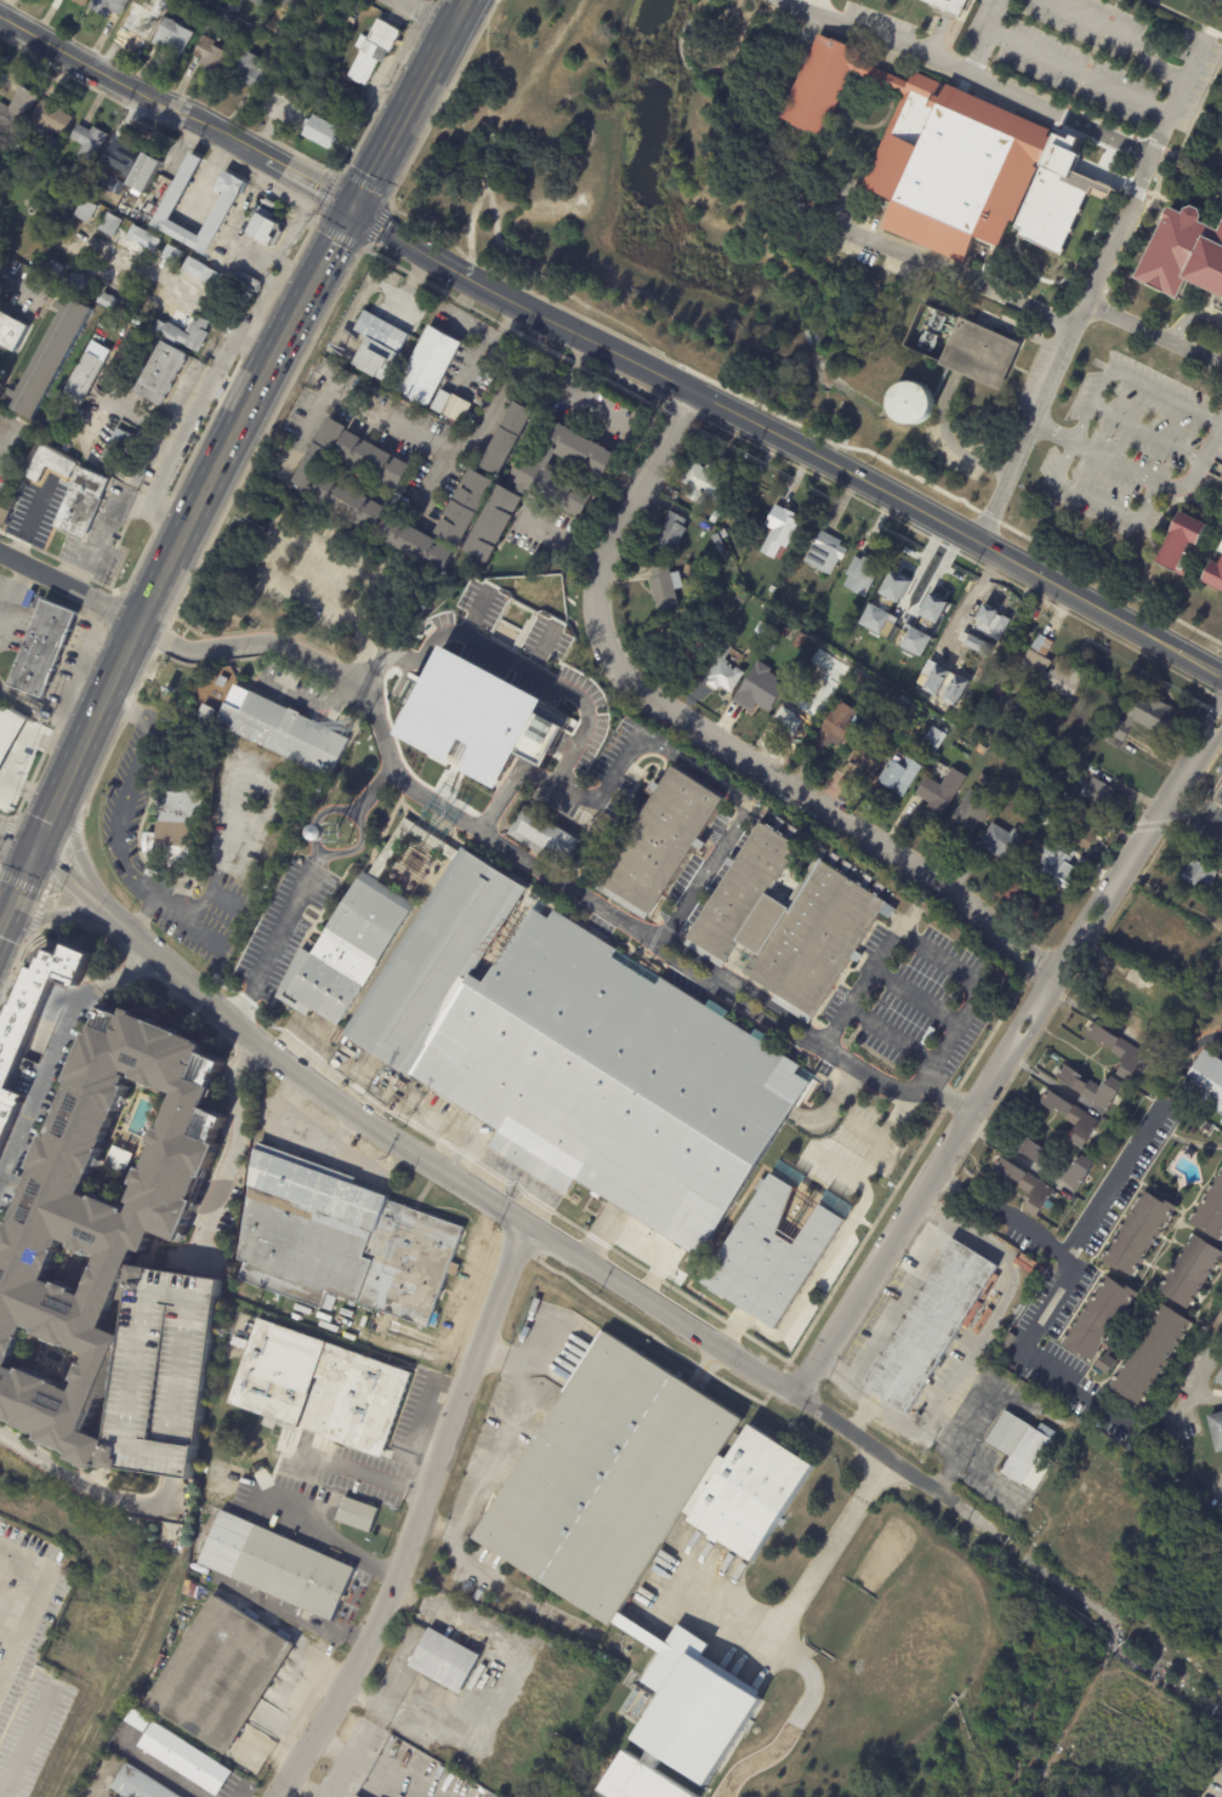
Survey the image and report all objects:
building: (85, 1)
building: (263, 1)
building: (291, 4)
building: (948, 5)
building: (112, 6)
building: (237, 6)
road: (812, 7)
road: (1114, 7)
building: (322, 12)
road: (426, 13)
road: (1186, 16)
building: (352, 18)
parking lot: (879, 18)
building: (144, 23)
parking lot: (937, 30)
road: (959, 32)
road: (1103, 32)
road: (1120, 34)
building: (177, 36)
road: (984, 38)
building: (274, 44)
building: (337, 44)
building: (370, 51)
building: (212, 53)
road: (923, 56)
road: (1091, 57)
parking lot: (1099, 58)
road: (977, 64)
building: (251, 73)
road: (527, 73)
road: (1078, 74)
road: (1080, 79)
road: (129, 89)
road: (1033, 90)
road: (1070, 99)
road: (1176, 99)
building: (18, 112)
road: (1210, 113)
road: (1063, 116)
building: (52, 119)
building: (320, 132)
building: (91, 142)
building: (55, 144)
road: (1158, 146)
building: (124, 157)
building: (148, 171)
building: (968, 172)
road: (306, 181)
building: (96, 183)
road: (365, 183)
road: (329, 189)
building: (109, 197)
building: (224, 204)
traffic signals: (353, 207)
building: (87, 210)
road: (376, 221)
building: (112, 224)
building: (265, 229)
road: (337, 233)
road: (305, 234)
road: (409, 239)
road: (231, 243)
building: (154, 244)
building: (1183, 255)
building: (61, 266)
building: (896, 271)
building: (203, 272)
road: (283, 274)
road: (413, 280)
building: (80, 282)
building: (251, 282)
road: (13, 288)
road: (197, 300)
building: (112, 301)
road: (267, 305)
building: (136, 311)
road: (504, 319)
building: (11, 328)
road: (483, 332)
road: (580, 332)
building: (931, 332)
building: (177, 334)
road: (1152, 335)
building: (101, 336)
road: (251, 336)
building: (381, 346)
road: (1061, 351)
building: (211, 354)
building: (976, 356)
building: (51, 358)
building: (428, 365)
building: (163, 374)
road: (1127, 377)
building: (90, 379)
road: (348, 389)
road: (575, 392)
building: (443, 400)
building: (913, 402)
storage tank: (913, 402)
road: (206, 423)
road: (489, 426)
road: (1146, 431)
road: (266, 433)
road: (184, 434)
building: (508, 439)
road: (2, 440)
building: (120, 444)
parking lot: (1133, 447)
road: (220, 459)
building: (52, 462)
building: (385, 472)
railway: (223, 476)
road: (1139, 478)
building: (704, 484)
building: (544, 487)
building: (381, 490)
building: (671, 494)
road: (1096, 500)
building: (1221, 500)
road: (632, 501)
building: (83, 502)
building: (11, 504)
building: (464, 506)
road: (160, 512)
building: (6, 516)
building: (716, 517)
road: (101, 527)
building: (671, 530)
building: (779, 530)
road: (957, 535)
road: (565, 540)
building: (722, 540)
building: (1178, 544)
building: (420, 545)
road: (329, 547)
building: (824, 552)
road: (137, 559)
building: (690, 569)
building: (859, 574)
building: (1215, 574)
building: (665, 586)
road: (68, 587)
road: (12, 590)
building: (772, 590)
building: (893, 592)
road: (113, 605)
building: (932, 607)
building: (970, 626)
road: (102, 630)
building: (784, 631)
road: (161, 636)
building: (800, 642)
building: (690, 643)
building: (772, 647)
building: (44, 648)
building: (1051, 669)
building: (723, 671)
road: (78, 672)
road: (144, 675)
building: (224, 681)
road: (79, 682)
building: (999, 687)
building: (758, 692)
building: (902, 703)
road: (42, 704)
road: (127, 709)
building: (800, 715)
building: (1045, 717)
building: (1010, 718)
building: (1141, 720)
road: (541, 726)
building: (834, 726)
building: (6, 729)
building: (285, 732)
building: (933, 738)
road: (493, 749)
building: (981, 750)
building: (865, 755)
road: (104, 760)
building: (899, 774)
road: (32, 777)
building: (981, 778)
road: (131, 786)
building: (1022, 787)
building: (940, 791)
building: (1102, 795)
road: (504, 797)
building: (1218, 802)
road: (819, 803)
building: (968, 813)
road: (1195, 815)
building: (178, 823)
building: (1048, 824)
road: (732, 825)
building: (1084, 826)
water tower: (337, 828)
road: (7, 829)
road: (68, 838)
building: (549, 838)
building: (999, 841)
building: (657, 842)
road: (16, 843)
road: (73, 854)
building: (1056, 863)
road: (540, 866)
building: (1198, 874)
road: (222, 878)
road: (314, 881)
road: (23, 883)
road: (45, 893)
building: (1022, 899)
road: (53, 905)
road: (146, 914)
building: (781, 922)
road: (33, 925)
building: (1221, 937)
building: (1221, 939)
road: (927, 946)
building: (1217, 963)
building: (1141, 1001)
building: (36, 1036)
road: (1209, 1040)
building: (558, 1042)
building: (1118, 1051)
road: (1008, 1054)
road: (69, 1065)
building: (1205, 1080)
road: (1050, 1082)
building: (1091, 1087)
road: (364, 1114)
building: (1072, 1119)
building: (1221, 1121)
road: (243, 1154)
road: (1014, 1156)
building: (1057, 1165)
road: (1115, 1181)
building: (1023, 1184)
building: (1059, 1199)
building: (1210, 1211)
road: (1001, 1212)
road: (5, 1213)
building: (101, 1222)
building: (1136, 1234)
building: (346, 1241)
road: (832, 1250)
building: (772, 1256)
building: (1189, 1272)
building: (995, 1281)
road: (889, 1300)
building: (1097, 1319)
building: (1217, 1323)
building: (930, 1326)
building: (1007, 1343)
road: (495, 1349)
road: (1028, 1352)
road: (965, 1355)
building: (1148, 1355)
building: (1106, 1364)
road: (755, 1370)
parking lot: (161, 1372)
building: (1218, 1378)
building: (323, 1387)
road: (1206, 1398)
road: (977, 1400)
road: (858, 1416)
road: (421, 1421)
building: (1216, 1431)
building: (1022, 1449)
road: (488, 1465)
road: (964, 1465)
road: (899, 1468)
road: (364, 1472)
road: (87, 1483)
building: (752, 1494)
building: (359, 1514)
road: (417, 1518)
building: (626, 1526)
building: (347, 1529)
road: (334, 1537)
building: (279, 1566)
building: (73, 1574)
road: (802, 1587)
road: (28, 1603)
road: (1096, 1608)
building: (187, 1634)
building: (547, 1643)
building: (443, 1665)
park: (917, 1676)
building: (226, 1677)
road: (455, 1744)
road: (22, 1746)
building: (184, 1757)
road: (346, 1759)
road: (167, 1776)
road: (380, 1778)
building: (140, 1785)
park: (564, 1787)
road: (299, 1789)
building: (356, 1796)

